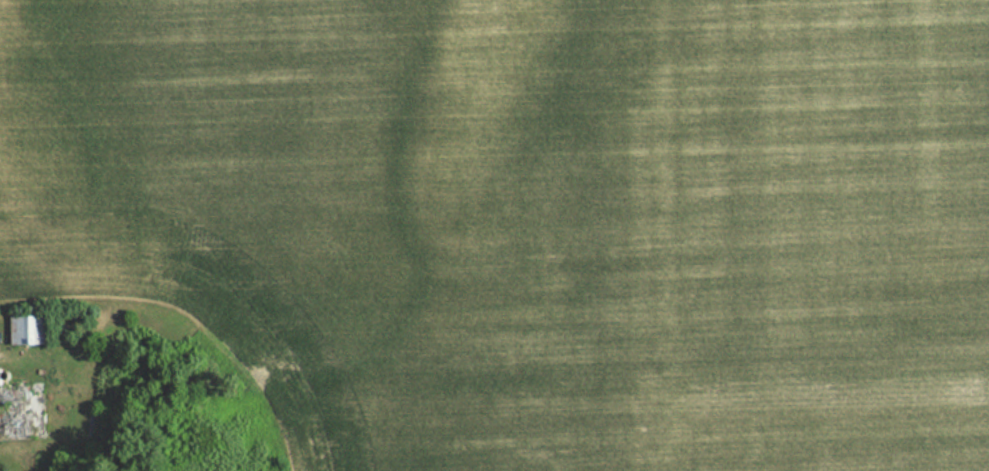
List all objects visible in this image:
crop: (529, 219)
building: (23, 331)

